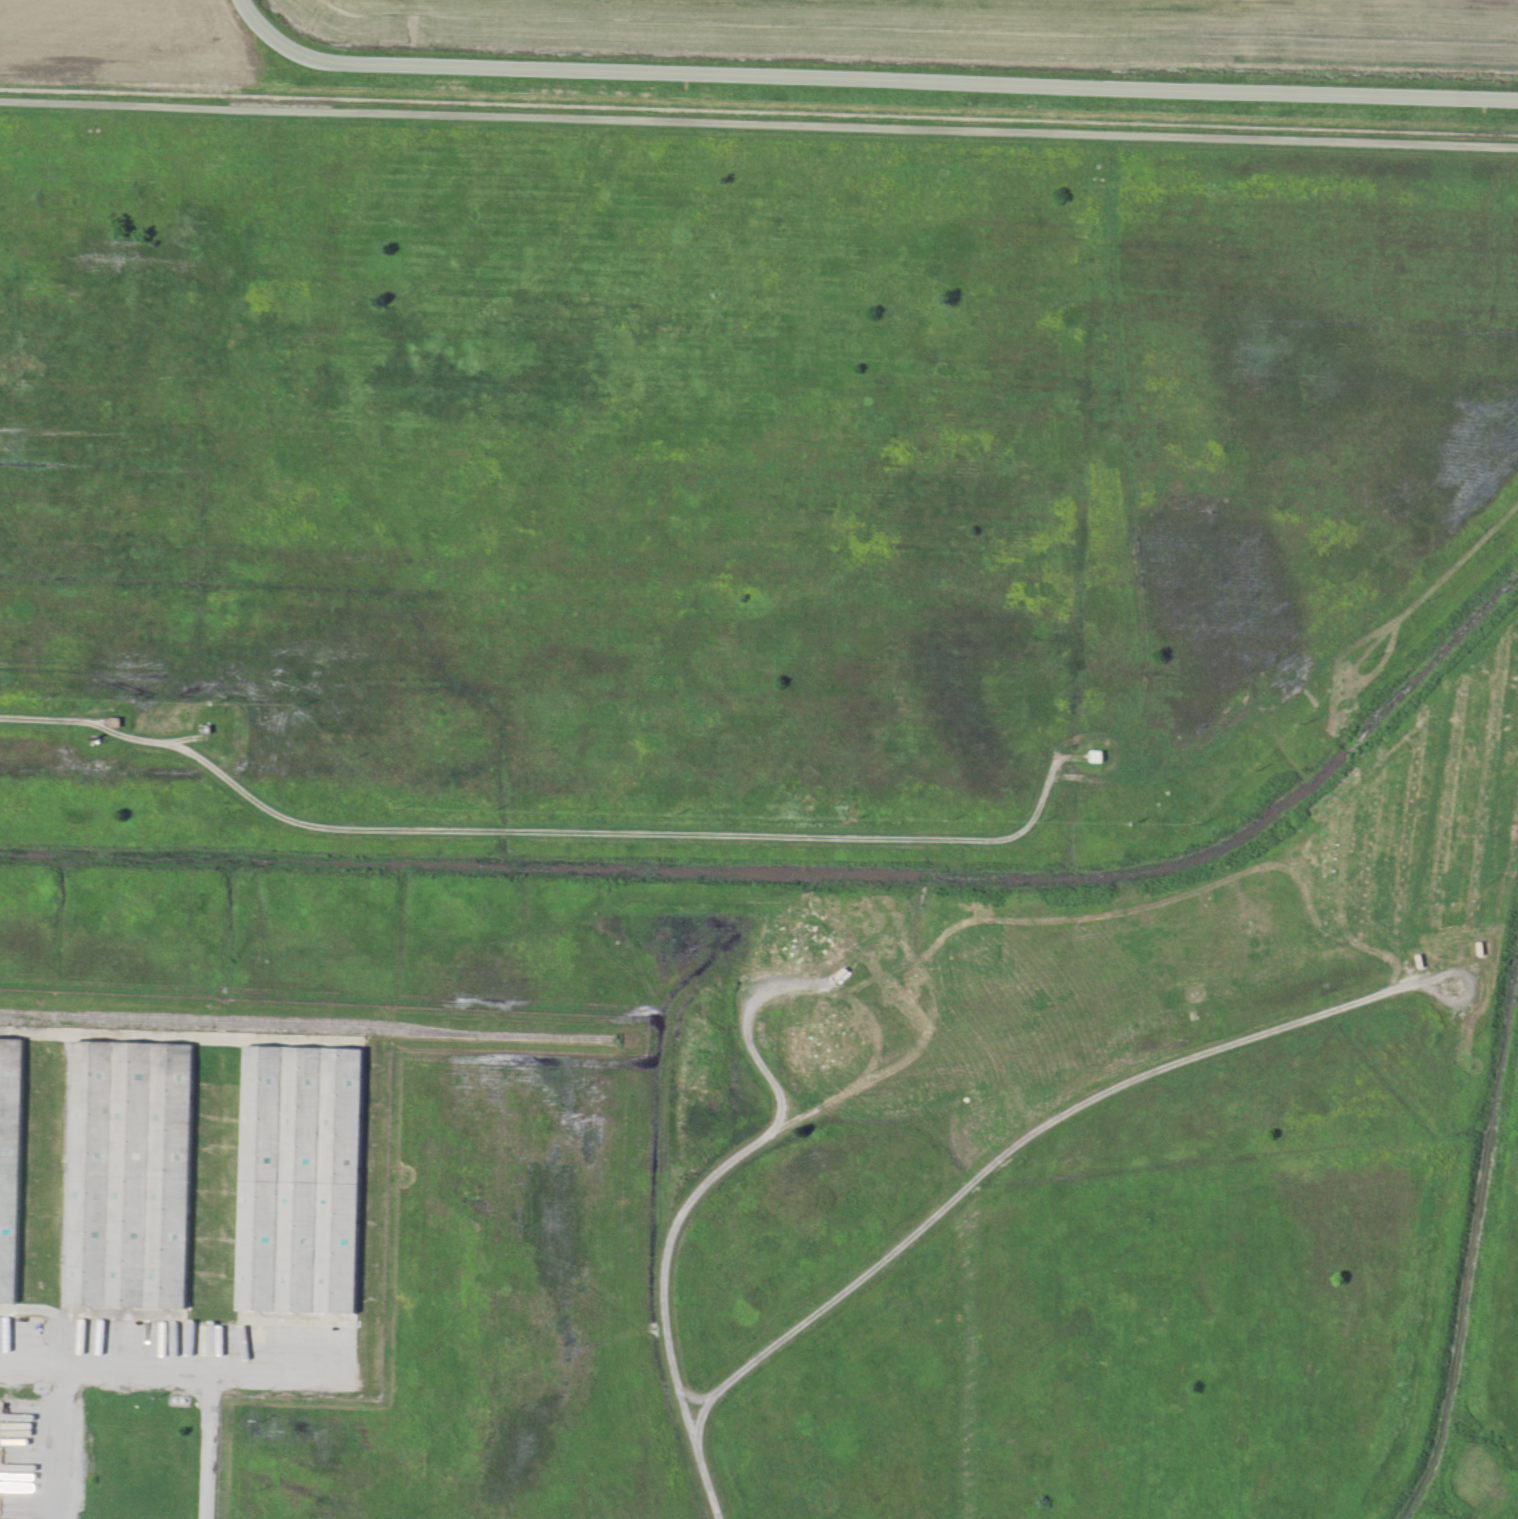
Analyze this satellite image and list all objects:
crop: (984, 27)
road: (272, 40)
road: (918, 82)
road: (759, 125)
road: (538, 833)
railway: (308, 1026)
building: (9, 1166)
road: (981, 1173)
road: (712, 1174)
building: (131, 1178)
building: (298, 1182)
road: (176, 1368)
road: (59, 1443)

